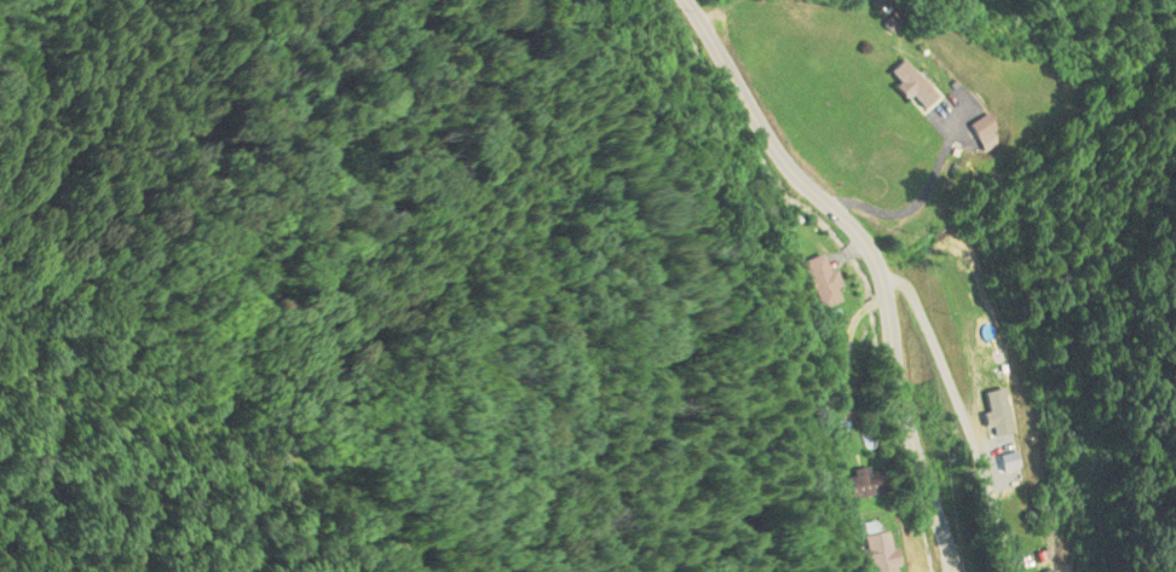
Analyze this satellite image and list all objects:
building: (910, 87)
building: (985, 135)
building: (789, 241)
road: (877, 256)
building: (822, 283)
building: (854, 485)
road: (392, 496)
building: (869, 553)
building: (1056, 571)

